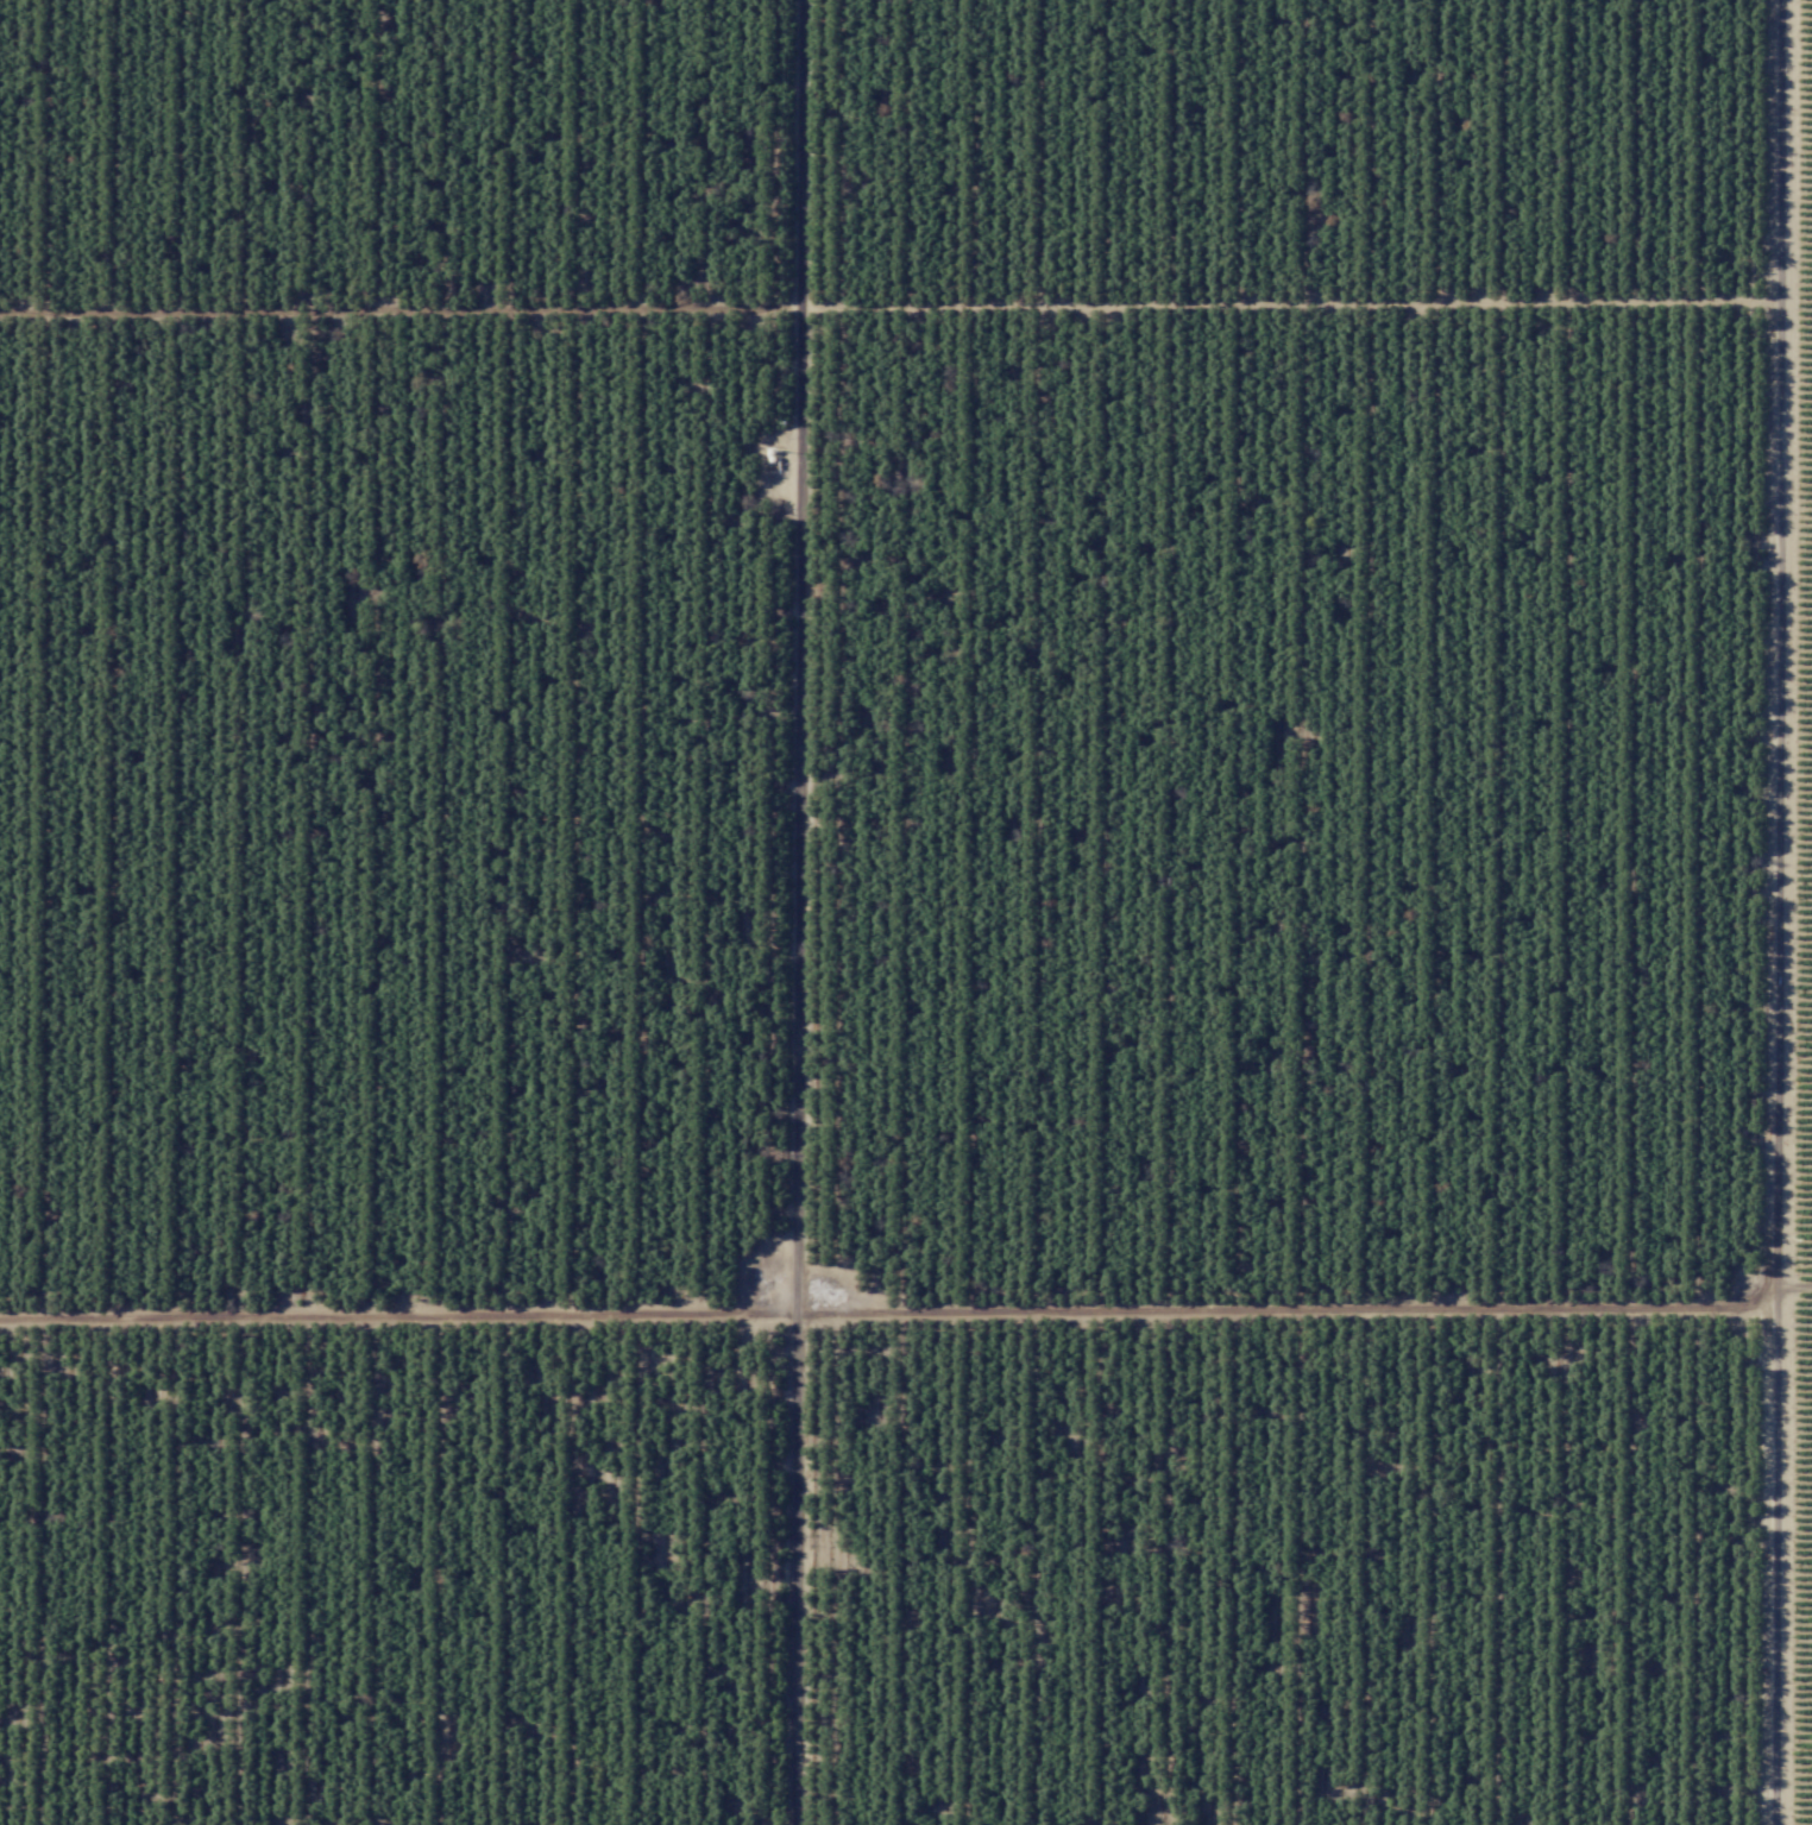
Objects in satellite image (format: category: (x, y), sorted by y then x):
road: (1781, 1078)

